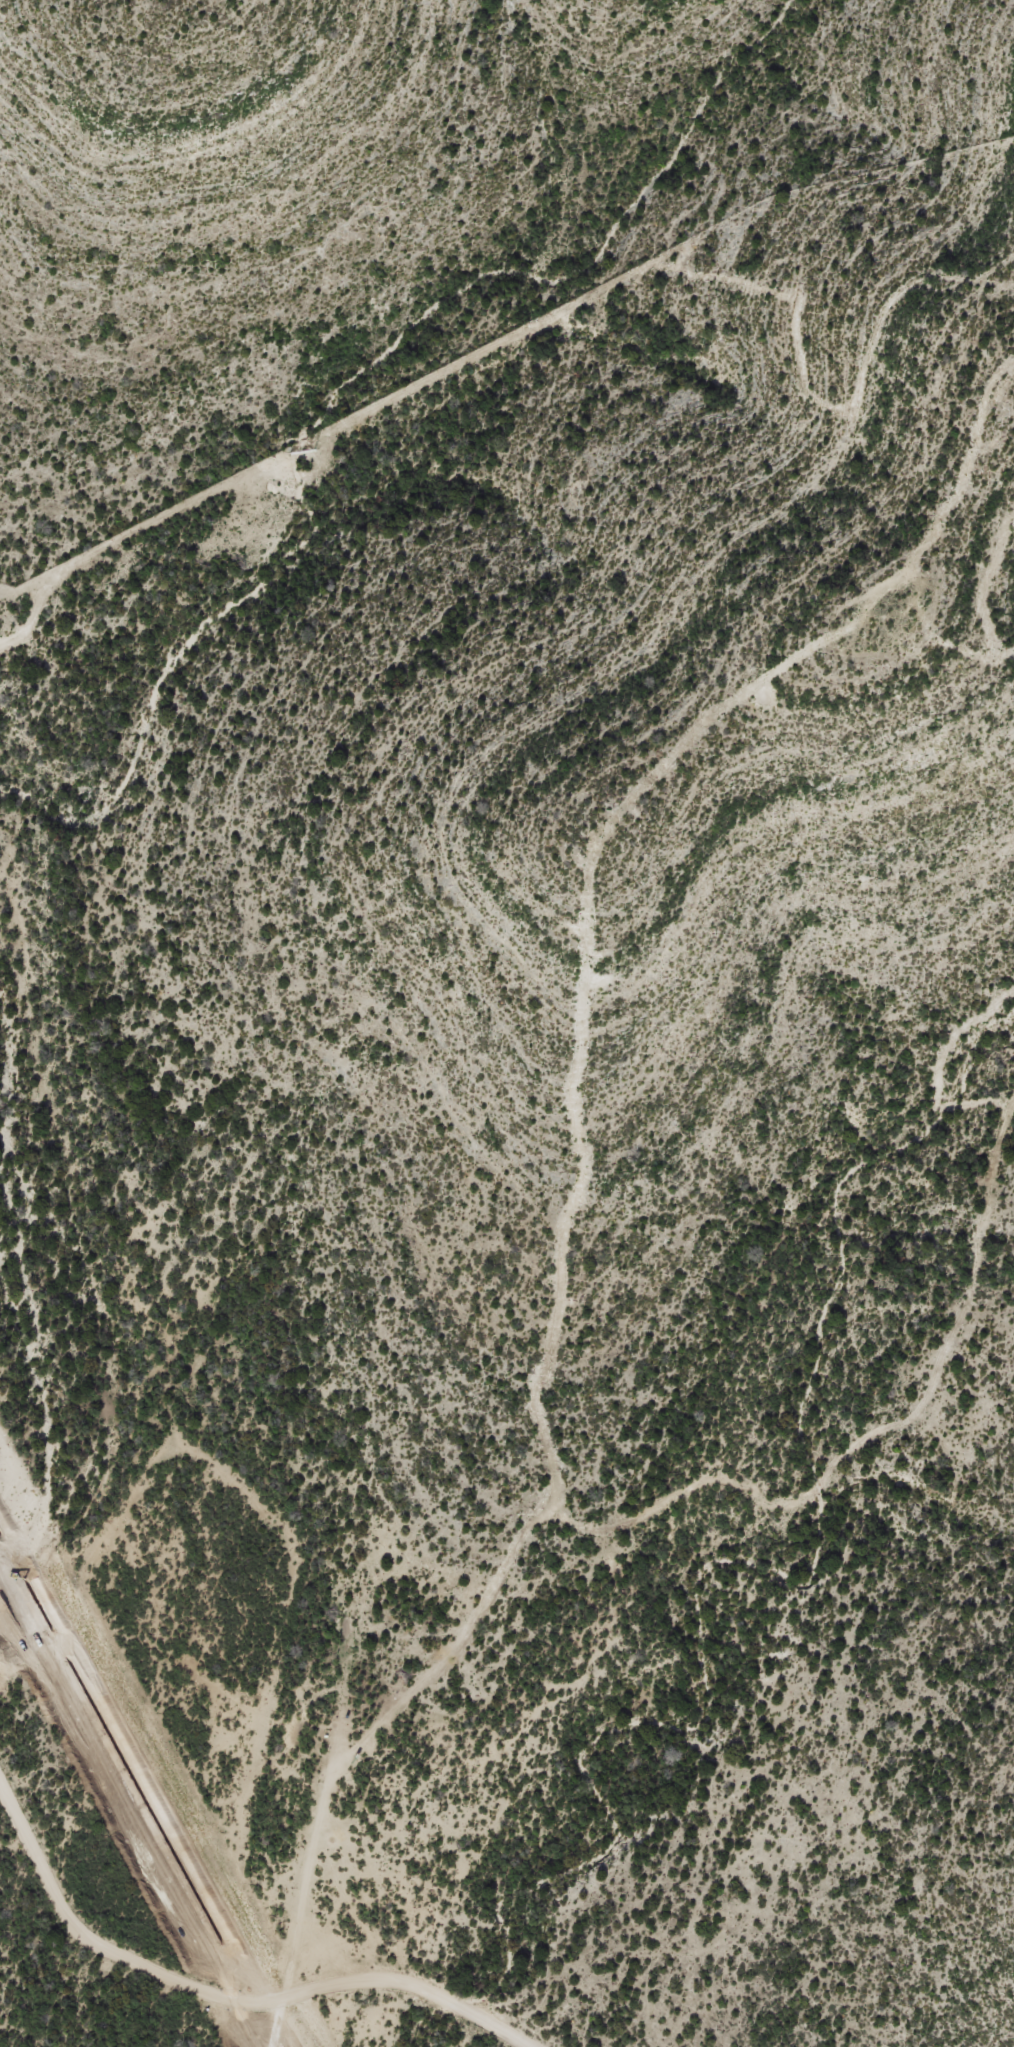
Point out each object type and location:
road: (220, 1990)

